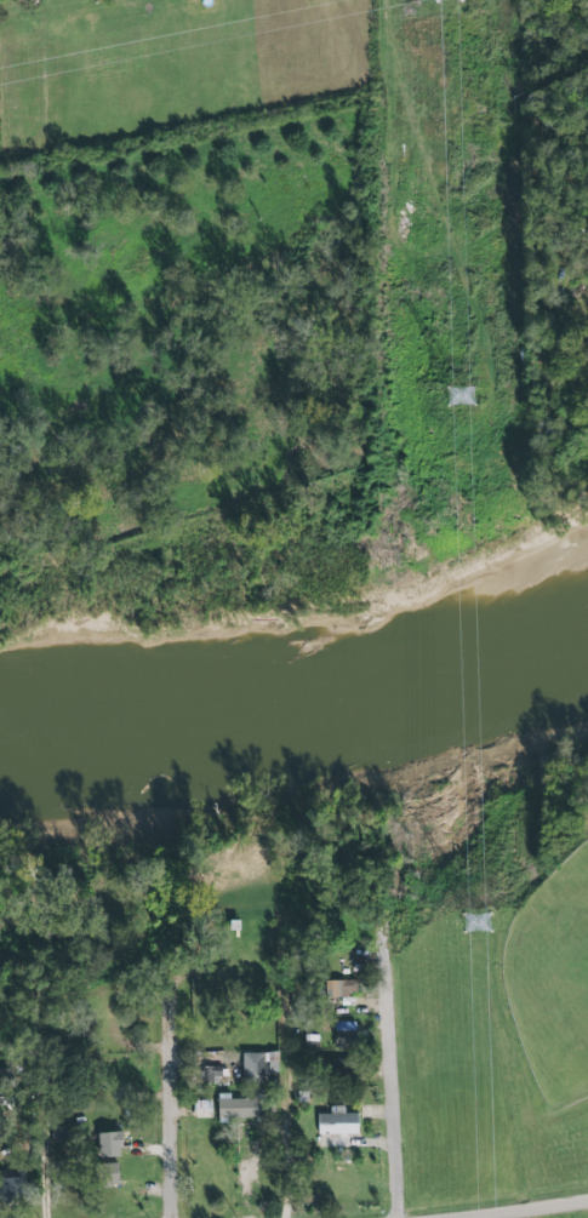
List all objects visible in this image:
power tower: (464, 396)
river: (299, 702)
power tower: (478, 922)
building: (339, 988)
building: (344, 1034)
road: (392, 1058)
building: (256, 1065)
building: (211, 1074)
road: (50, 1085)
road: (287, 1086)
road: (167, 1097)
building: (242, 1108)
building: (202, 1109)
building: (337, 1122)
building: (57, 1134)
building: (108, 1144)
building: (107, 1177)
building: (12, 1182)
road: (523, 1207)

